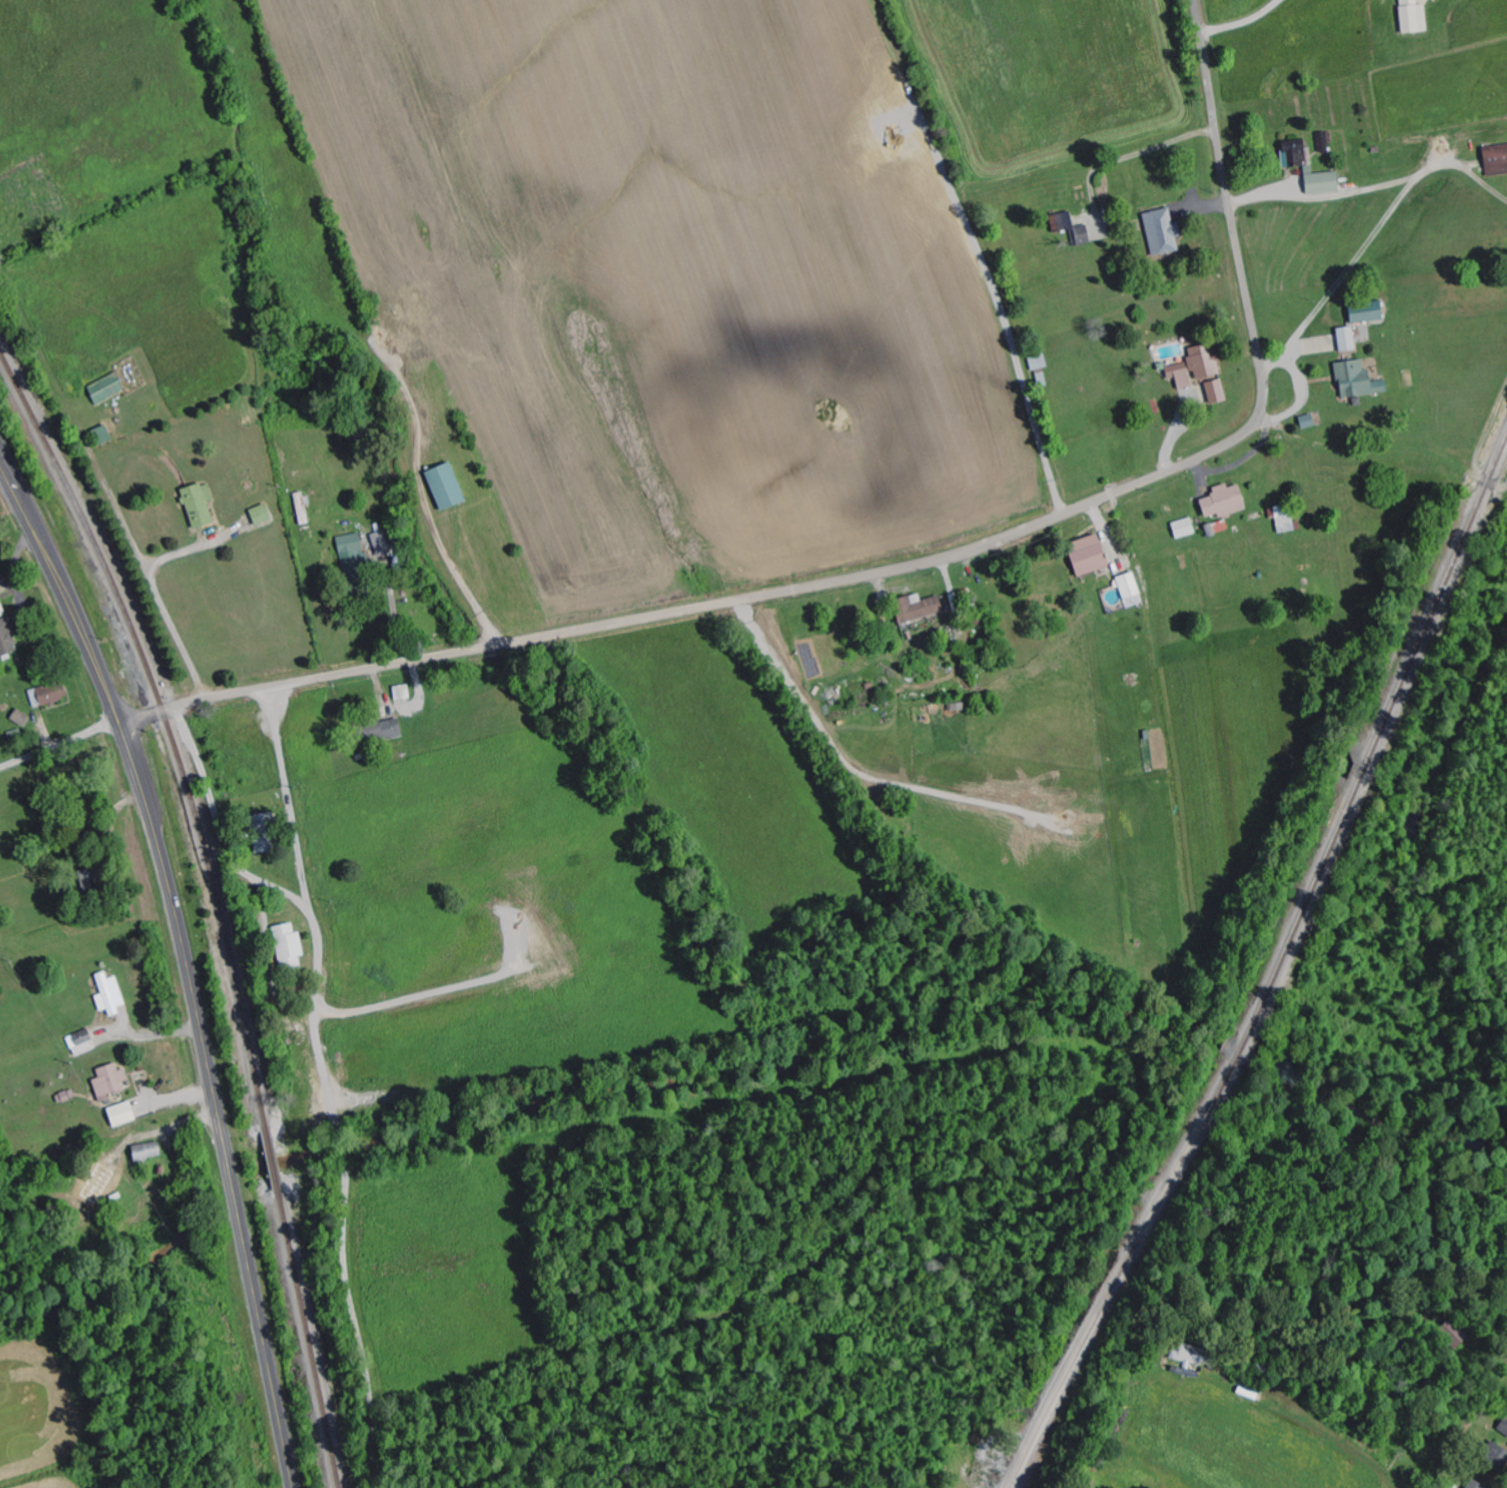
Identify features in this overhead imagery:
building: (1414, 17)
building: (1325, 142)
building: (1294, 155)
building: (1496, 160)
building: (1309, 161)
building: (1323, 182)
building: (1072, 228)
building: (1163, 231)
building: (1369, 312)
building: (1347, 339)
building: (1205, 361)
building: (1181, 375)
building: (1358, 380)
building: (107, 388)
building: (1217, 391)
building: (446, 486)
building: (1225, 502)
building: (199, 505)
building: (302, 508)
building: (261, 515)
building: (1284, 518)
building: (1184, 528)
building: (381, 544)
building: (352, 552)
building: (1088, 555)
road: (911, 568)
building: (1130, 589)
building: (0, 597)
building: (917, 608)
building: (7, 638)
building: (402, 692)
building: (49, 694)
building: (20, 717)
railway: (168, 730)
building: (377, 732)
road: (58, 745)
building: (263, 833)
building: (288, 947)
road: (185, 962)
railway: (1275, 973)
building: (110, 995)
building: (82, 1043)
building: (109, 1082)
building: (122, 1114)
building: (147, 1152)
railway: (275, 1165)
building: (98, 1185)
railway: (312, 1345)
building: (1197, 1356)
building: (1496, 1456)
building: (1476, 1485)

